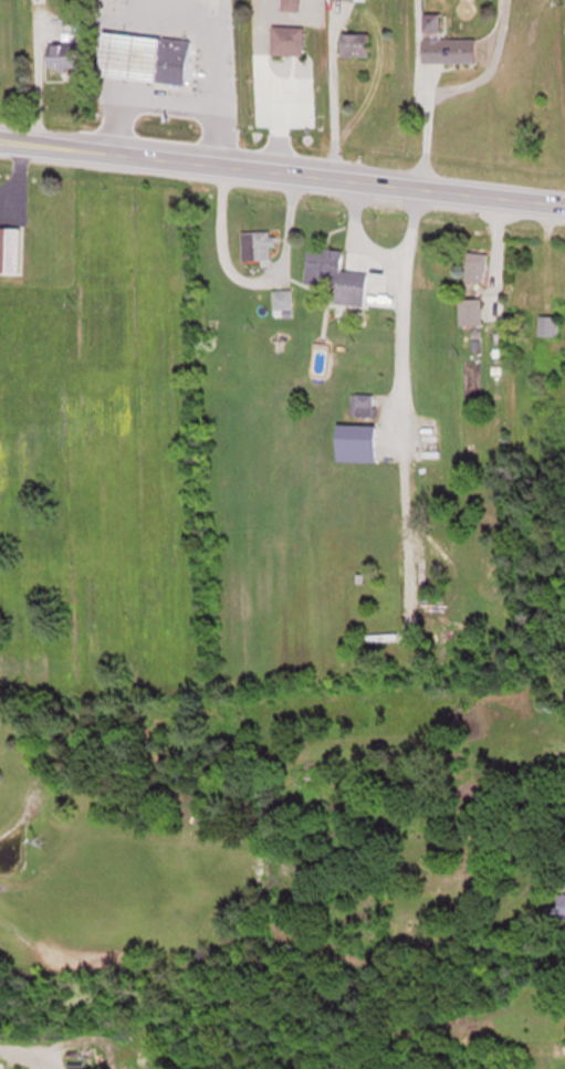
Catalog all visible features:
building: (290, 4)
road: (210, 29)
building: (286, 40)
building: (354, 43)
building: (448, 50)
building: (129, 53)
building: (63, 55)
building: (174, 59)
road: (165, 102)
road: (282, 169)
building: (257, 244)
building: (10, 250)
building: (475, 266)
building: (335, 275)
building: (469, 311)
building: (547, 325)
building: (366, 404)
building: (355, 441)
building: (561, 903)

